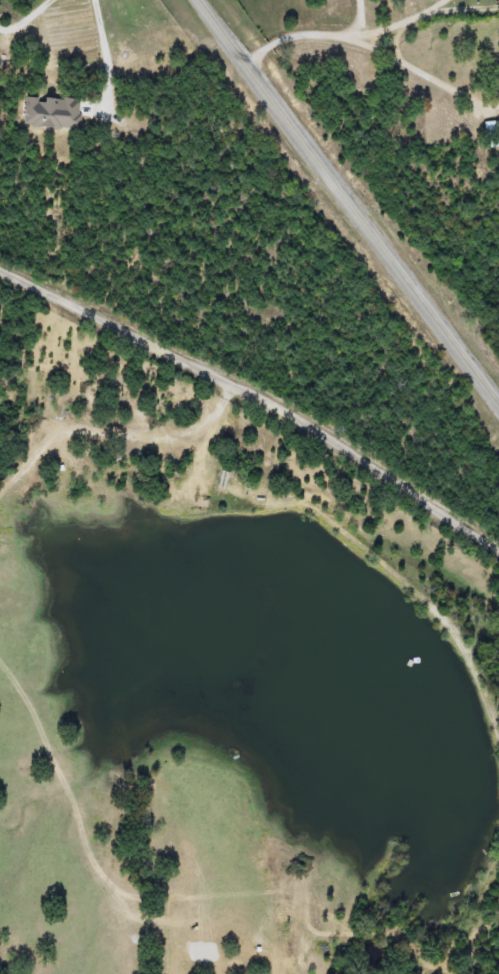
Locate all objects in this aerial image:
road: (436, 5)
road: (463, 9)
road: (334, 34)
building: (498, 35)
road: (103, 36)
road: (396, 44)
road: (425, 74)
road: (346, 203)
road: (257, 391)

